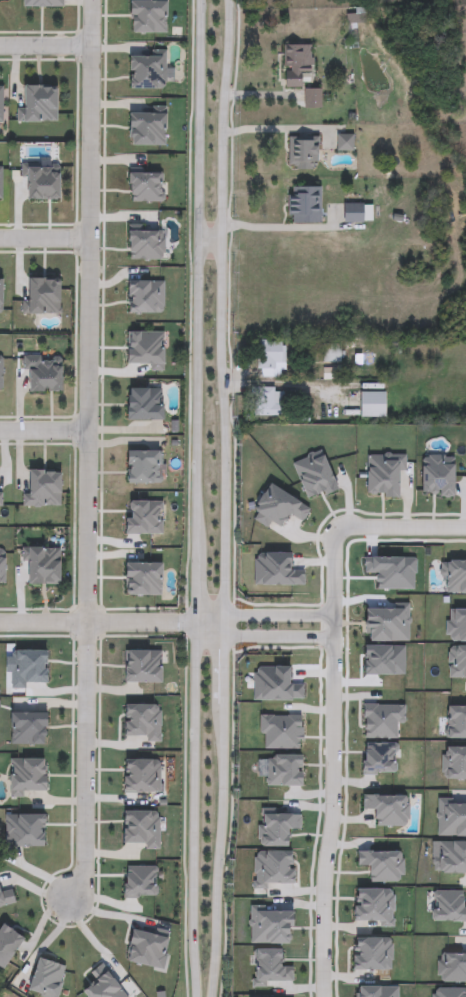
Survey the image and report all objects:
road: (46, 47)
building: (293, 66)
building: (149, 70)
building: (1, 104)
building: (42, 104)
building: (150, 129)
road: (277, 129)
building: (303, 153)
building: (44, 182)
building: (2, 184)
building: (304, 206)
building: (352, 215)
road: (285, 227)
road: (209, 241)
road: (45, 242)
building: (2, 296)
building: (46, 297)
road: (220, 307)
building: (270, 360)
building: (45, 372)
building: (1, 373)
road: (279, 384)
building: (265, 401)
building: (148, 403)
building: (370, 406)
road: (44, 433)
road: (87, 453)
building: (145, 466)
road: (196, 498)
road: (402, 527)
building: (45, 564)
road: (278, 615)
road: (210, 619)
road: (98, 624)
road: (224, 626)
road: (210, 630)
road: (278, 637)
road: (224, 670)
road: (332, 762)
building: (25, 831)
road: (217, 850)
road: (96, 941)
road: (45, 942)

